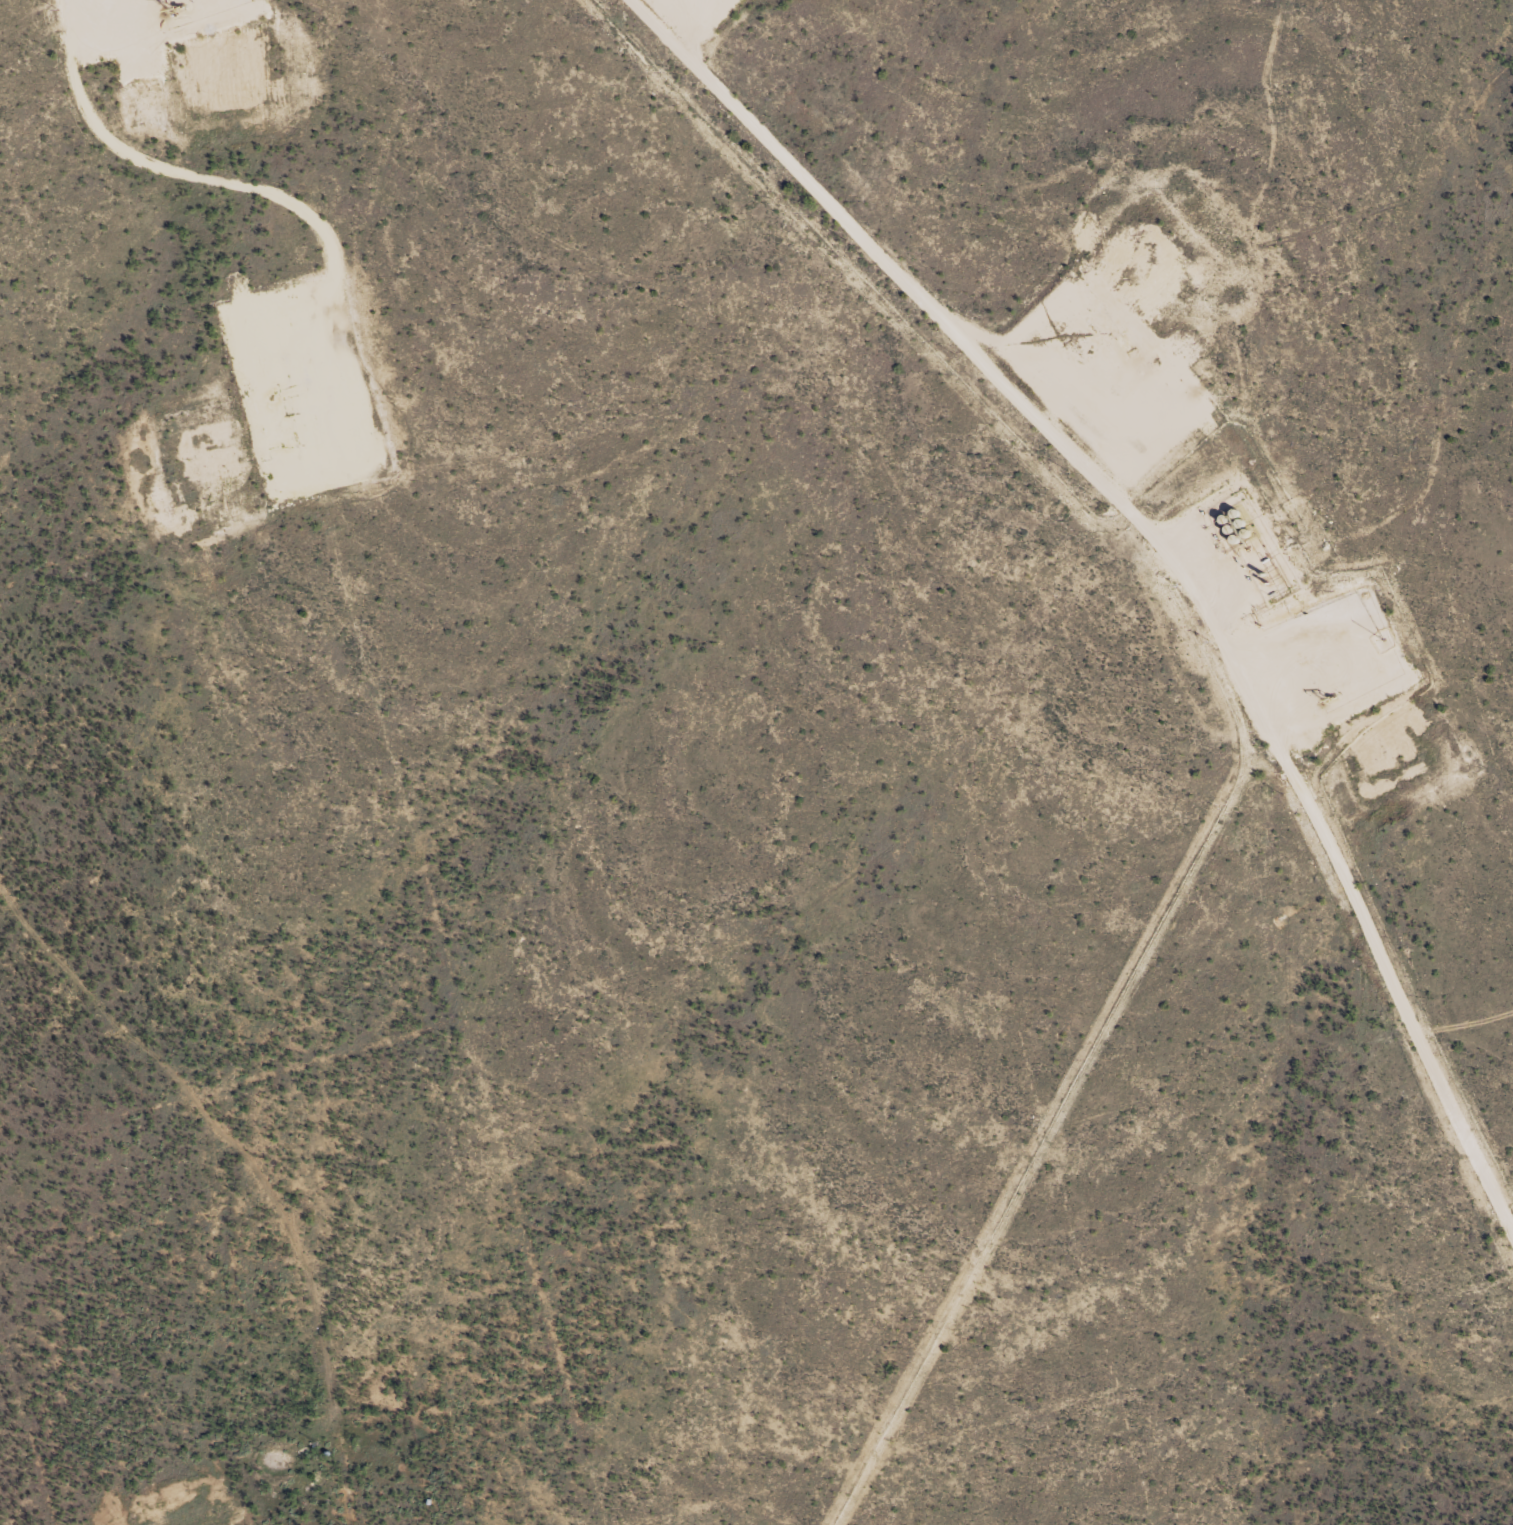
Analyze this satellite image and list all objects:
road: (1161, 574)
road: (249, 1180)

